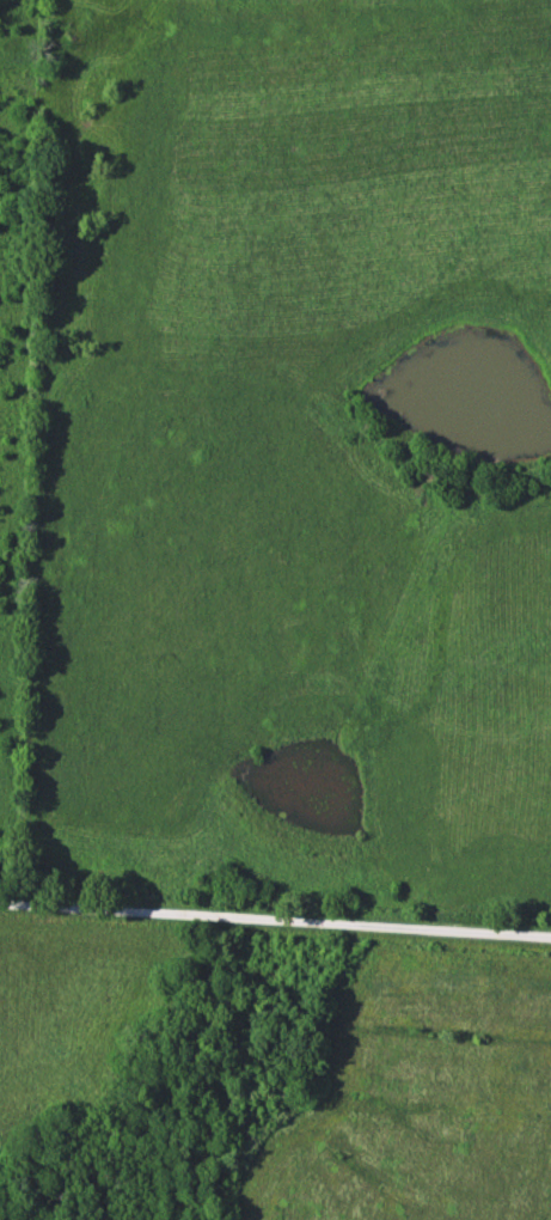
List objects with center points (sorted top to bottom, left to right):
road: (275, 922)

